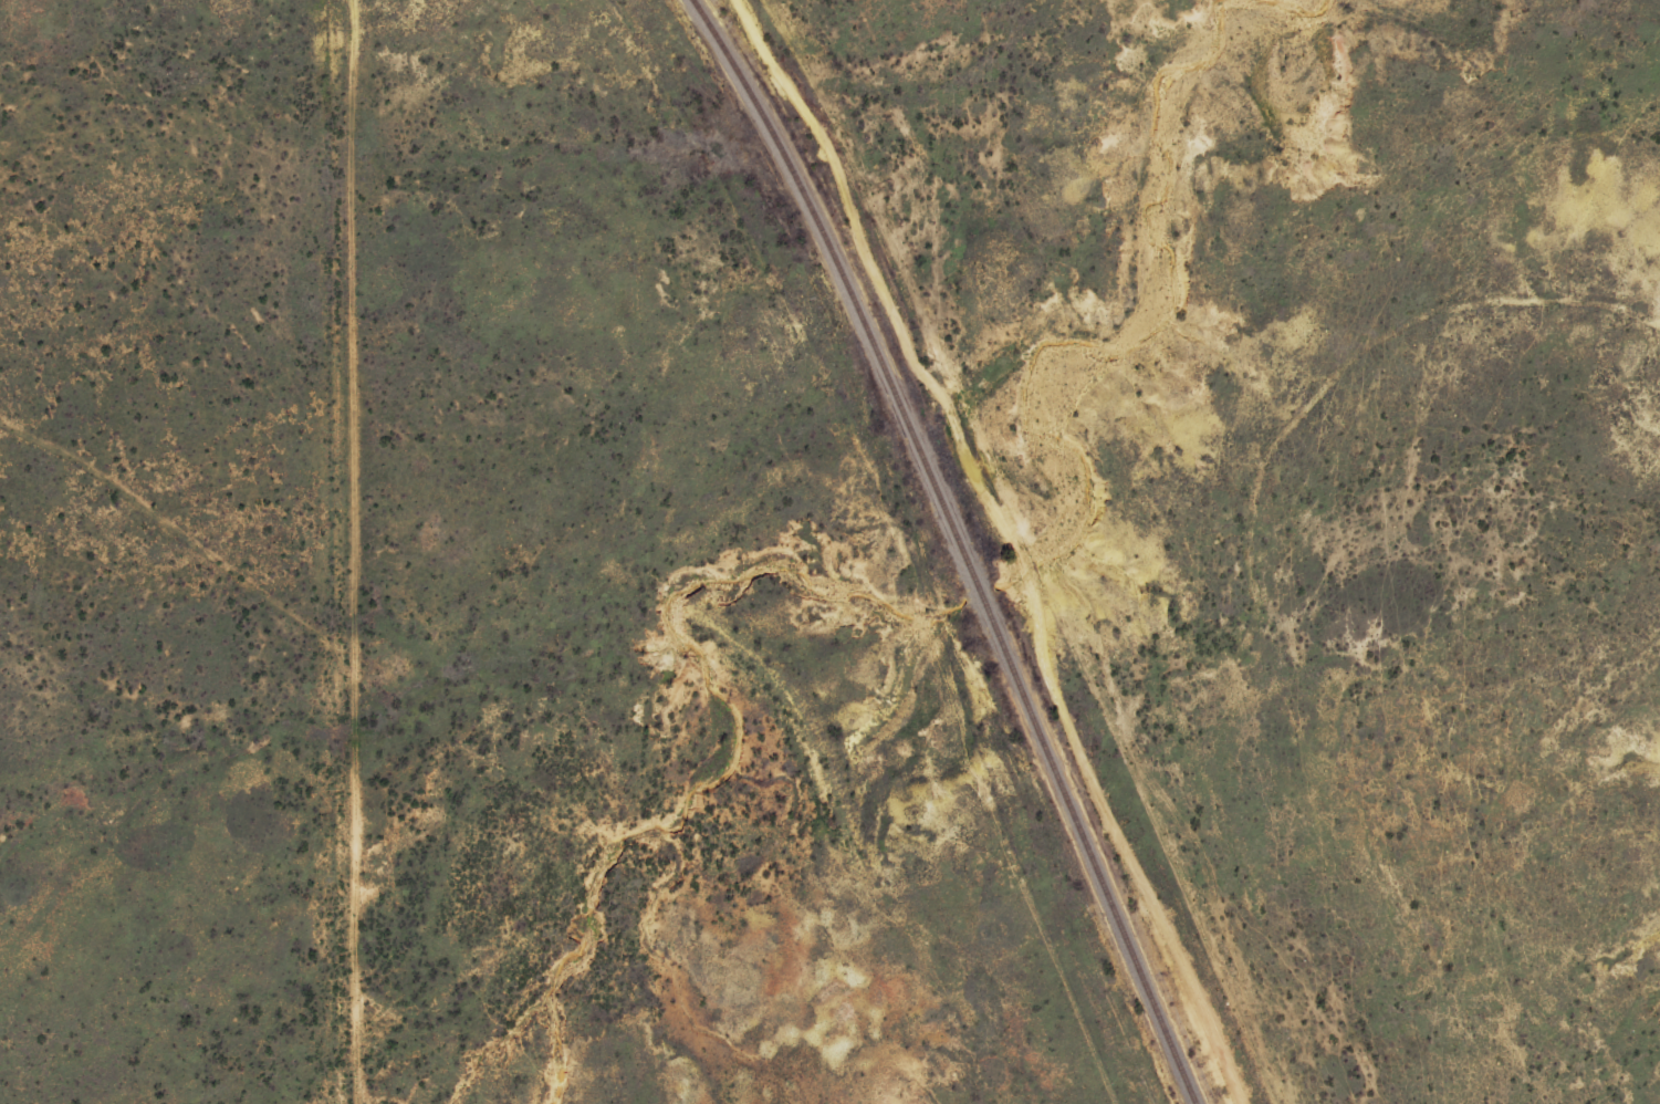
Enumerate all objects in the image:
railway: (954, 543)
road: (332, 552)
road: (343, 659)

